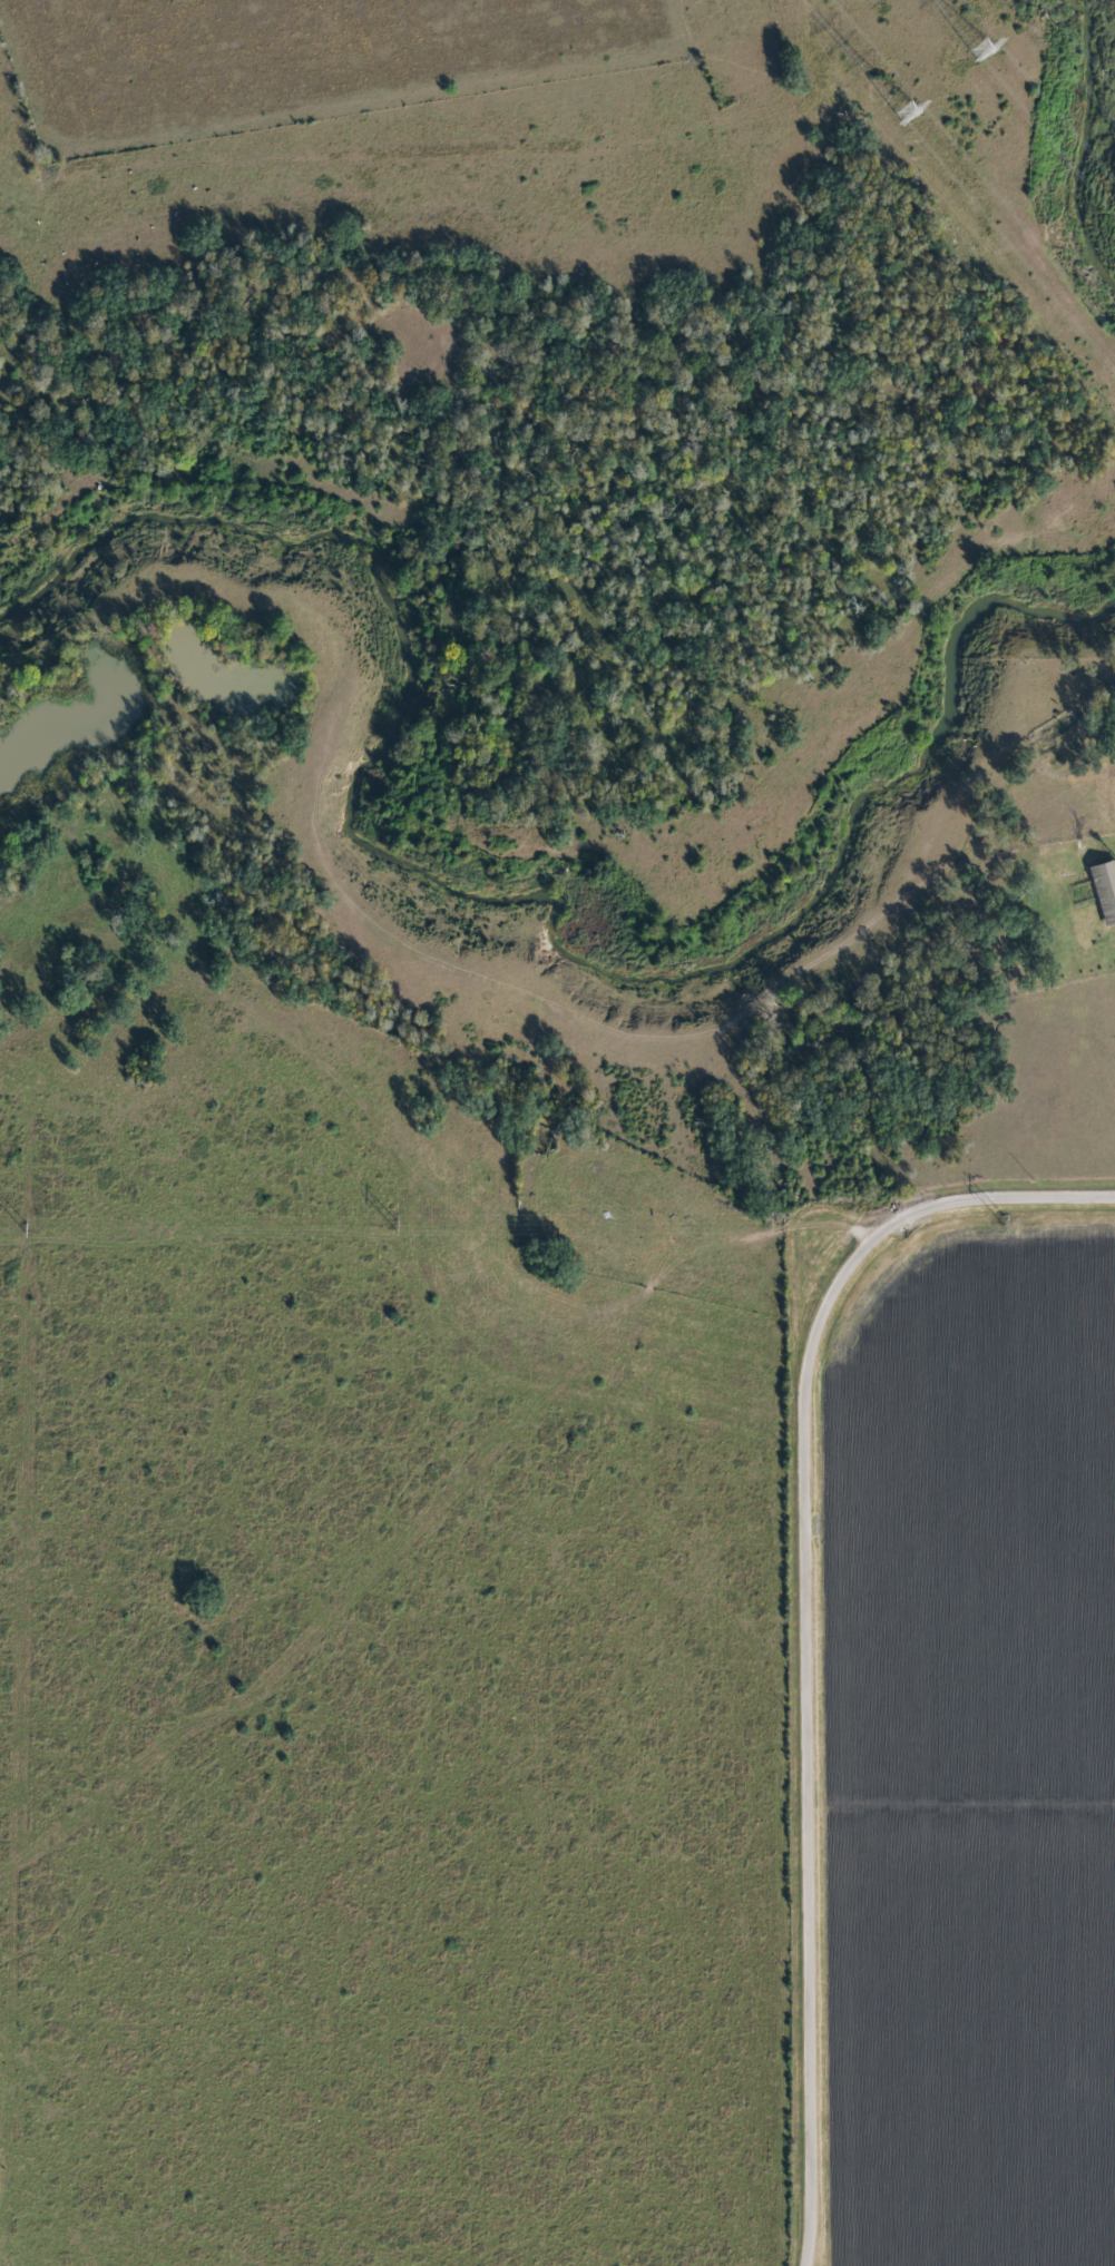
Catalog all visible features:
power tower: (1038, 29)
power tower: (981, 49)
power tower: (907, 112)
river: (1074, 141)
building: (1104, 891)
river: (516, 924)
power tower: (1004, 1222)
power tower: (767, 1223)
power tower: (389, 1225)
power tower: (26, 1228)
road: (800, 1613)

